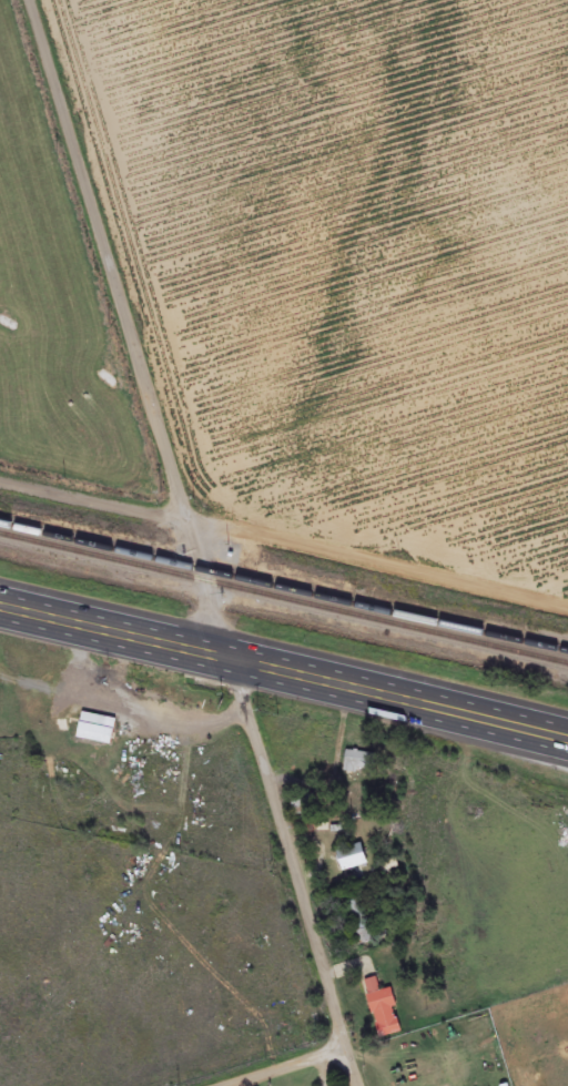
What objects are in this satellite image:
road: (131, 324)
road: (284, 535)
railway: (283, 589)
railway: (284, 600)
road: (284, 671)
building: (97, 730)
building: (358, 763)
building: (303, 806)
building: (352, 859)
road: (295, 873)
building: (359, 923)
building: (383, 1011)
road: (281, 1065)

